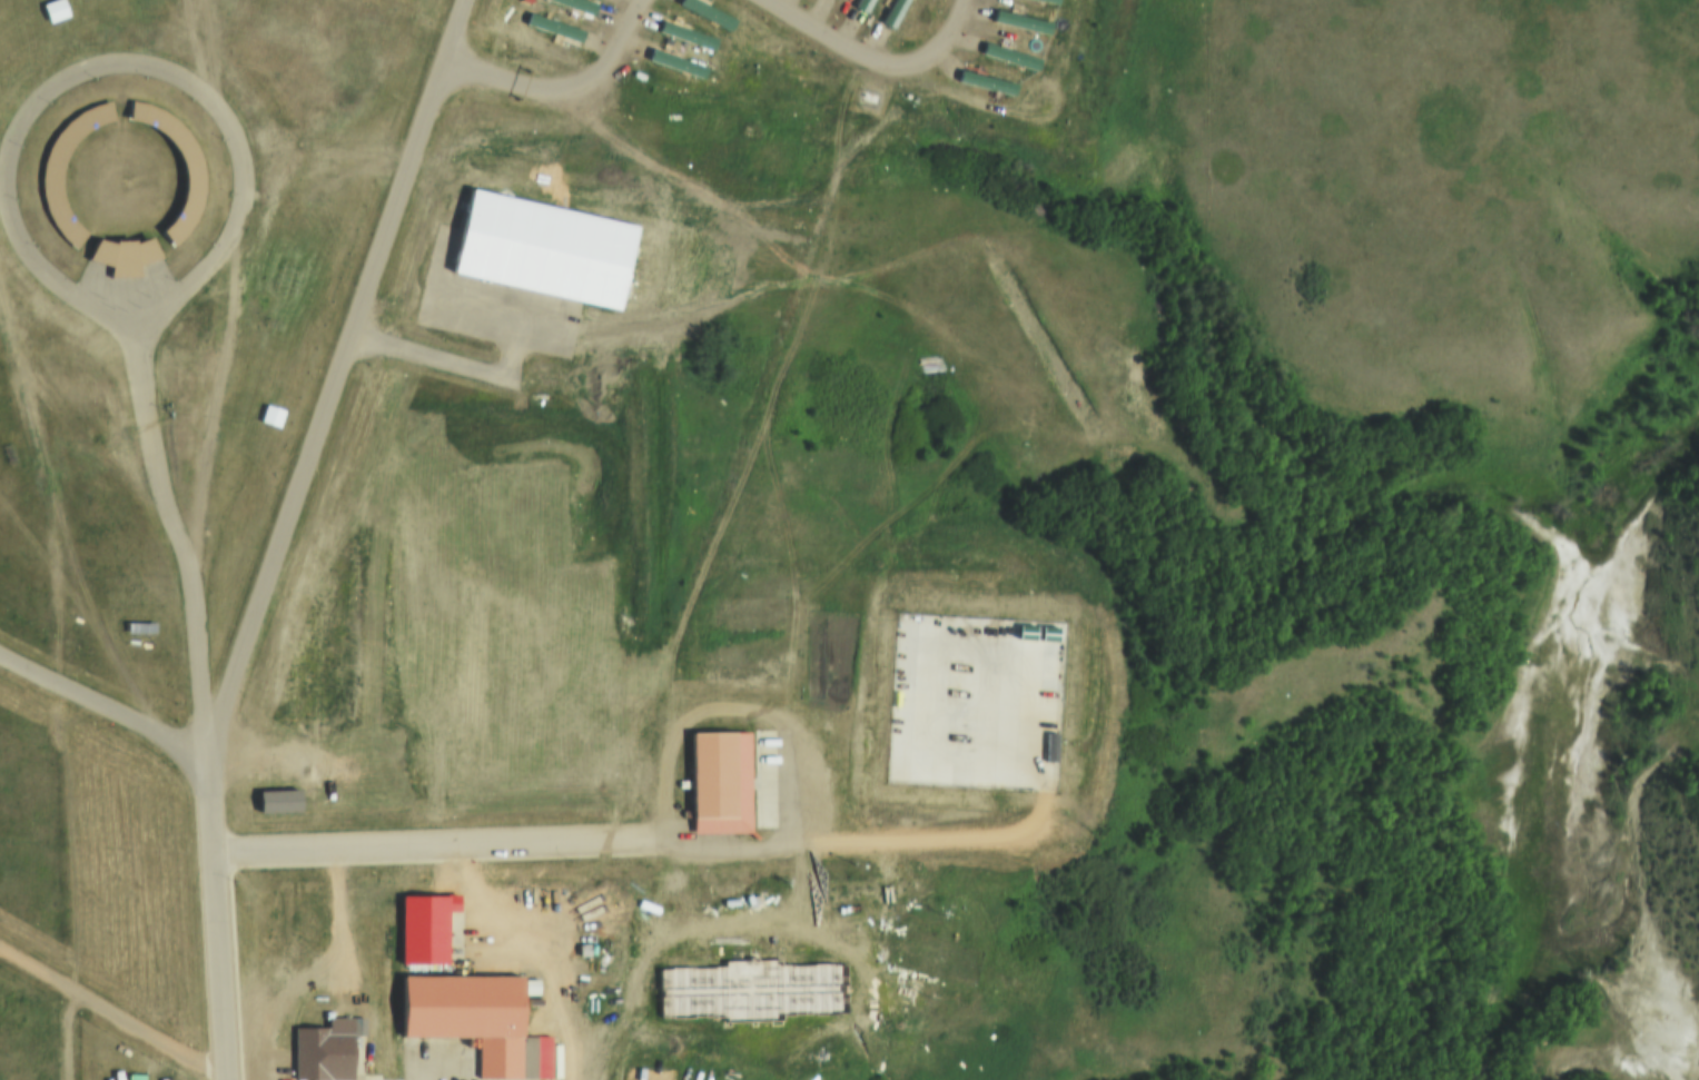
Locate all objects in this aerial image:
building: (1037, 2)
building: (574, 4)
building: (858, 6)
building: (889, 13)
building: (703, 14)
building: (1017, 23)
building: (551, 27)
building: (683, 36)
building: (1006, 58)
building: (672, 65)
building: (981, 83)
building: (191, 171)
building: (49, 175)
building: (34, 251)
building: (122, 254)
road: (228, 301)
building: (161, 319)
road: (334, 377)
road: (167, 507)
road: (99, 712)
road: (762, 743)
building: (717, 785)
building: (276, 799)
road: (437, 844)
road: (215, 916)
building: (422, 930)
building: (749, 992)
road: (110, 1007)
building: (464, 1018)
road: (65, 1032)
building: (319, 1050)

